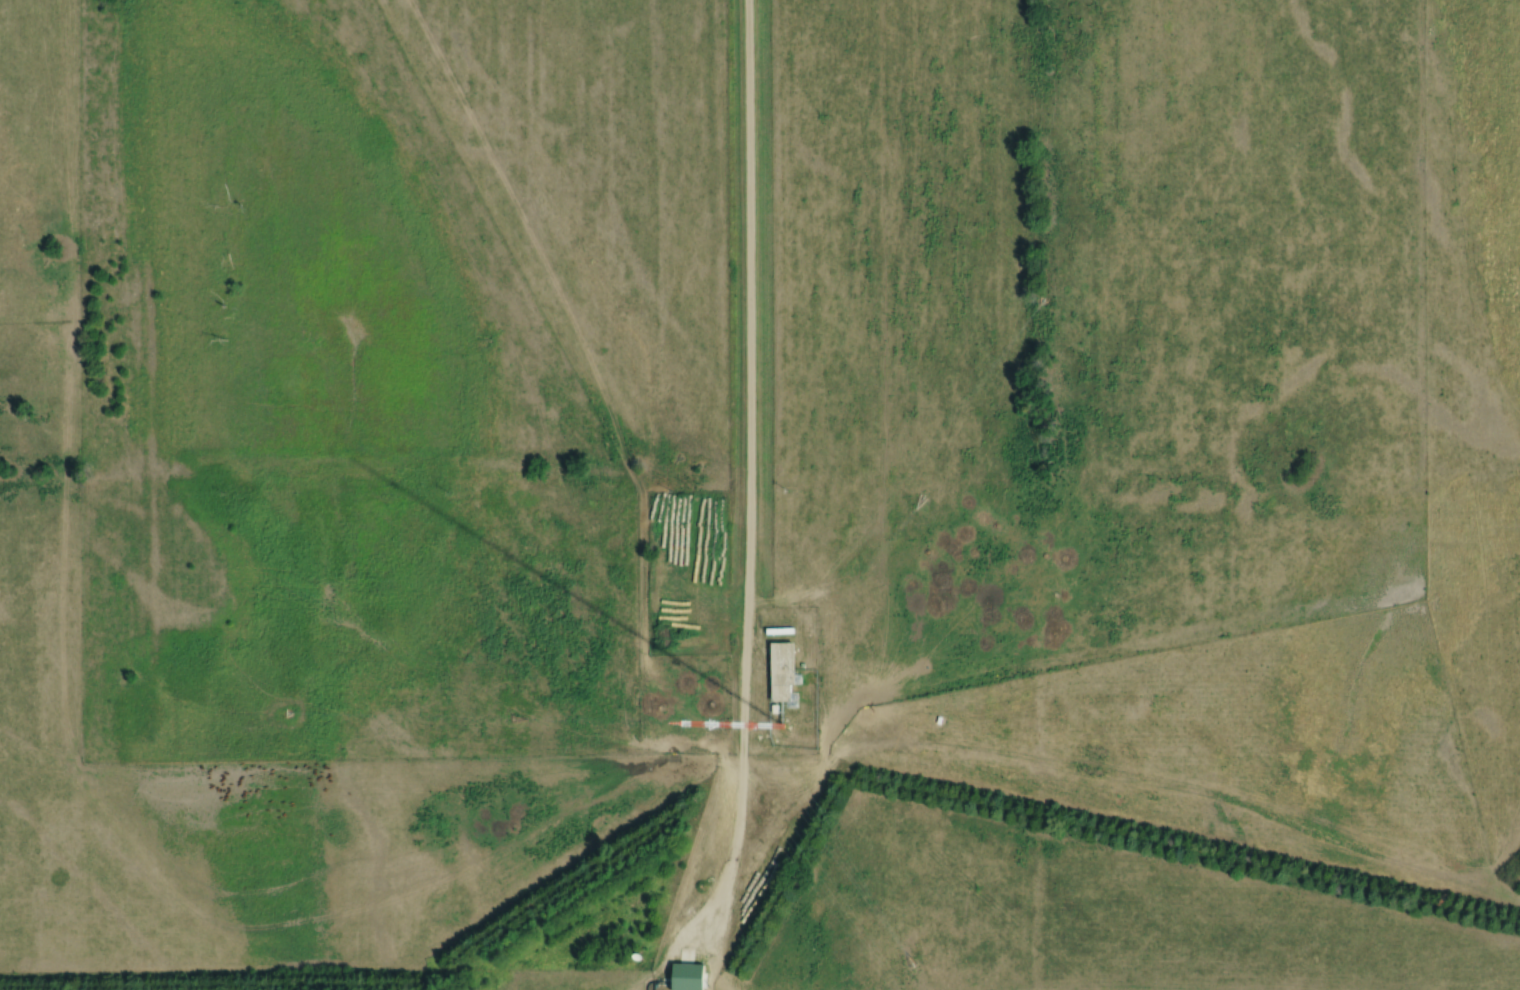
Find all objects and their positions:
road: (749, 475)
building: (782, 670)
building: (692, 979)

